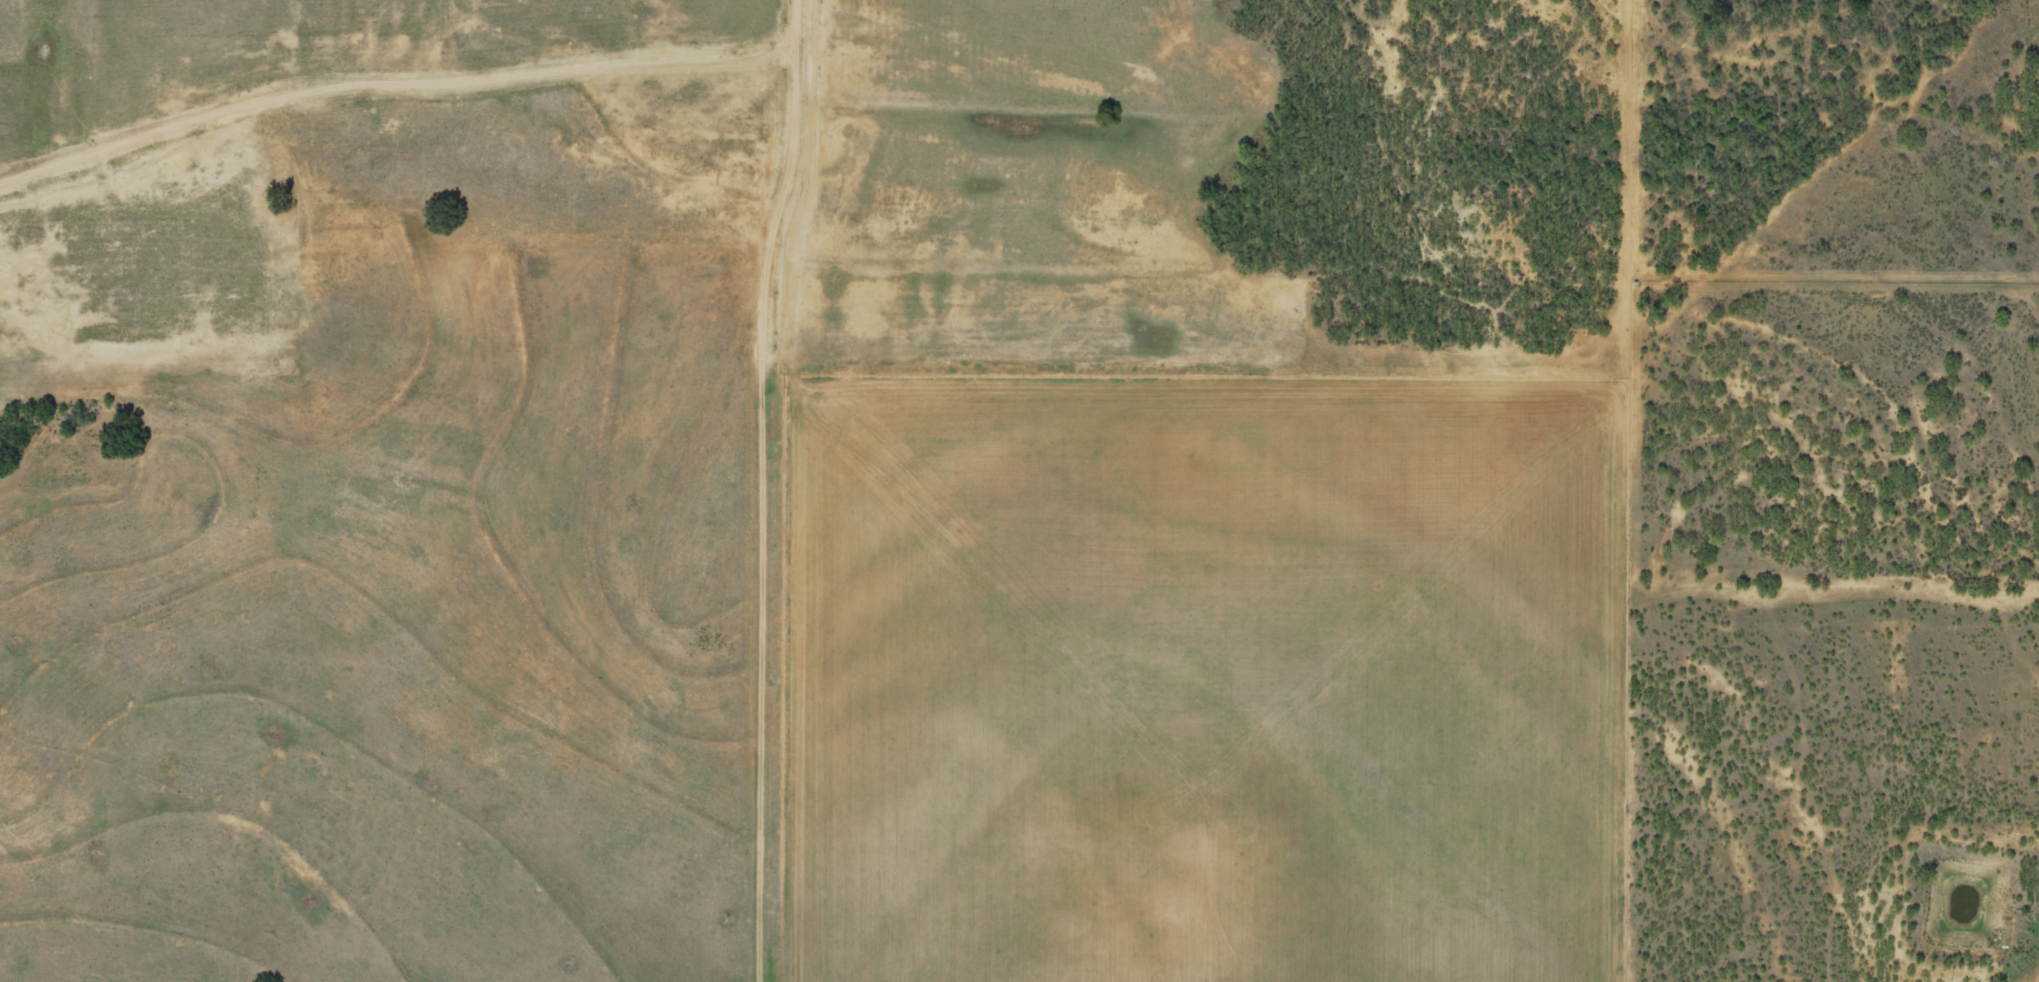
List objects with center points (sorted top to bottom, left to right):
road: (392, 104)
road: (799, 490)

